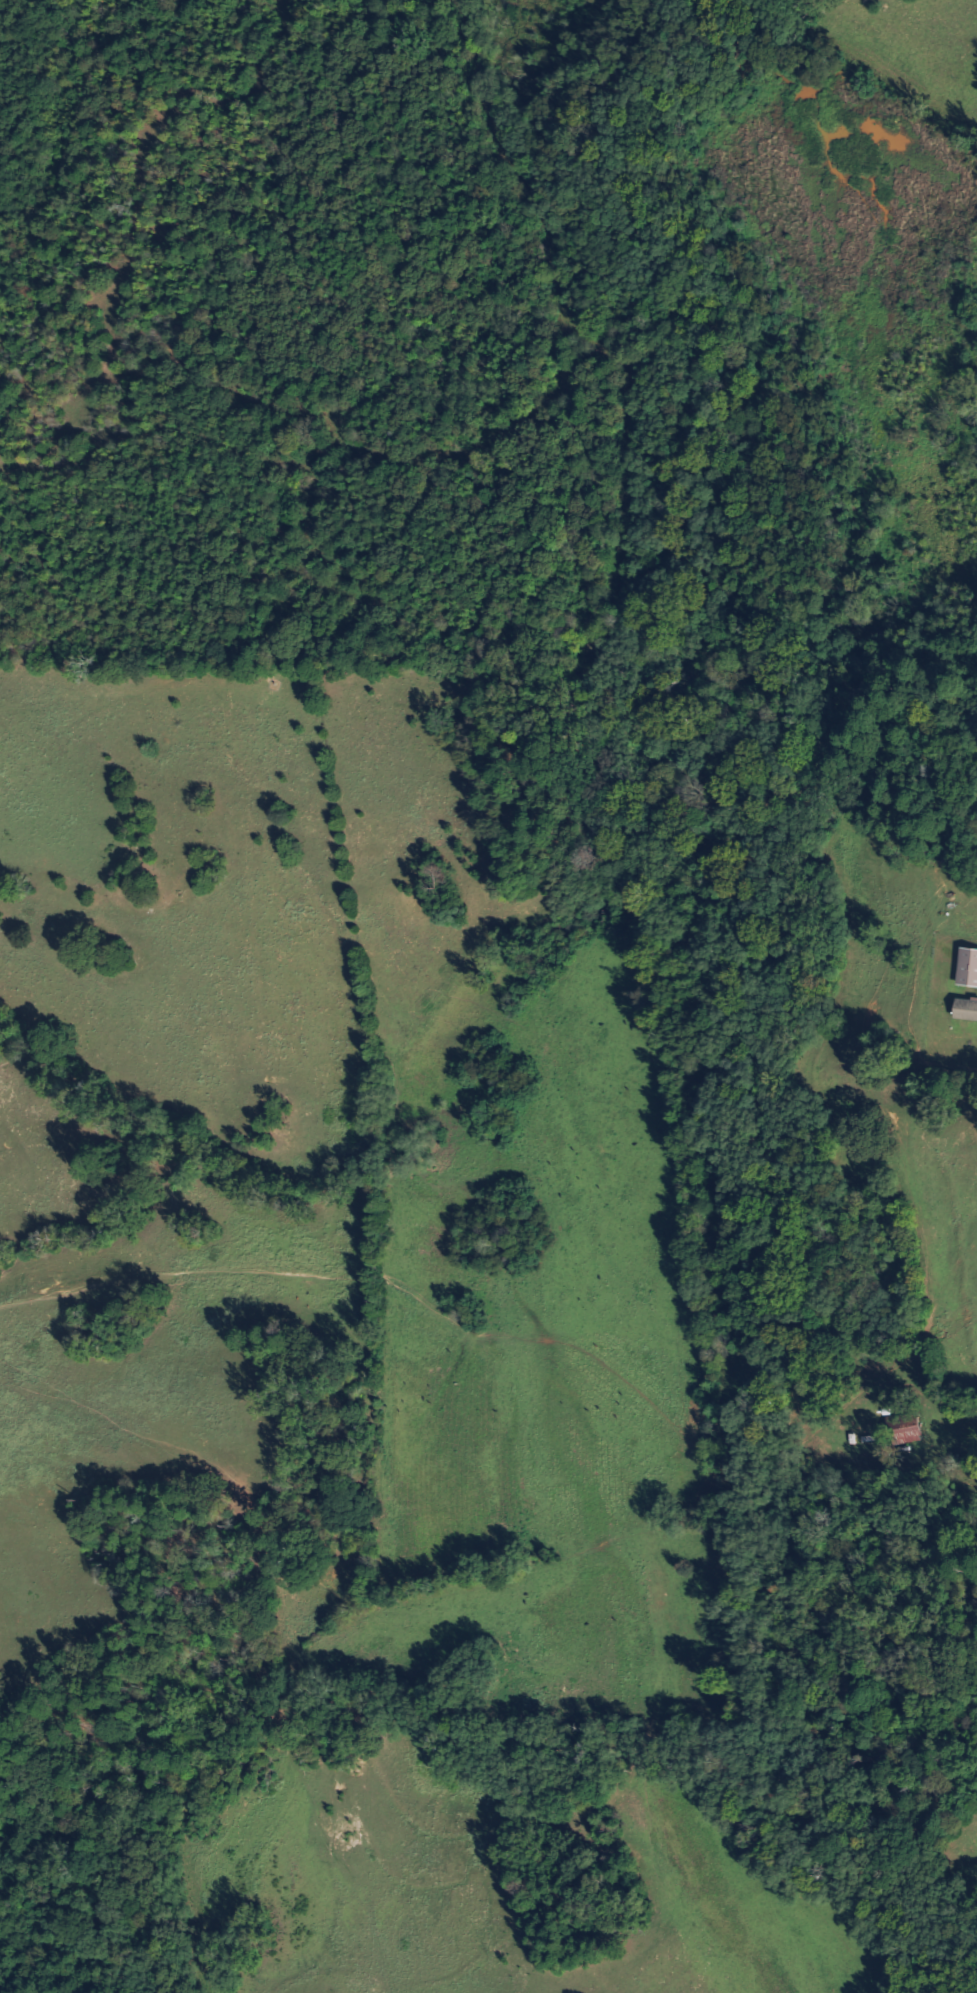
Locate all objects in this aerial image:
building: (968, 967)
building: (967, 1009)
road: (955, 1405)

